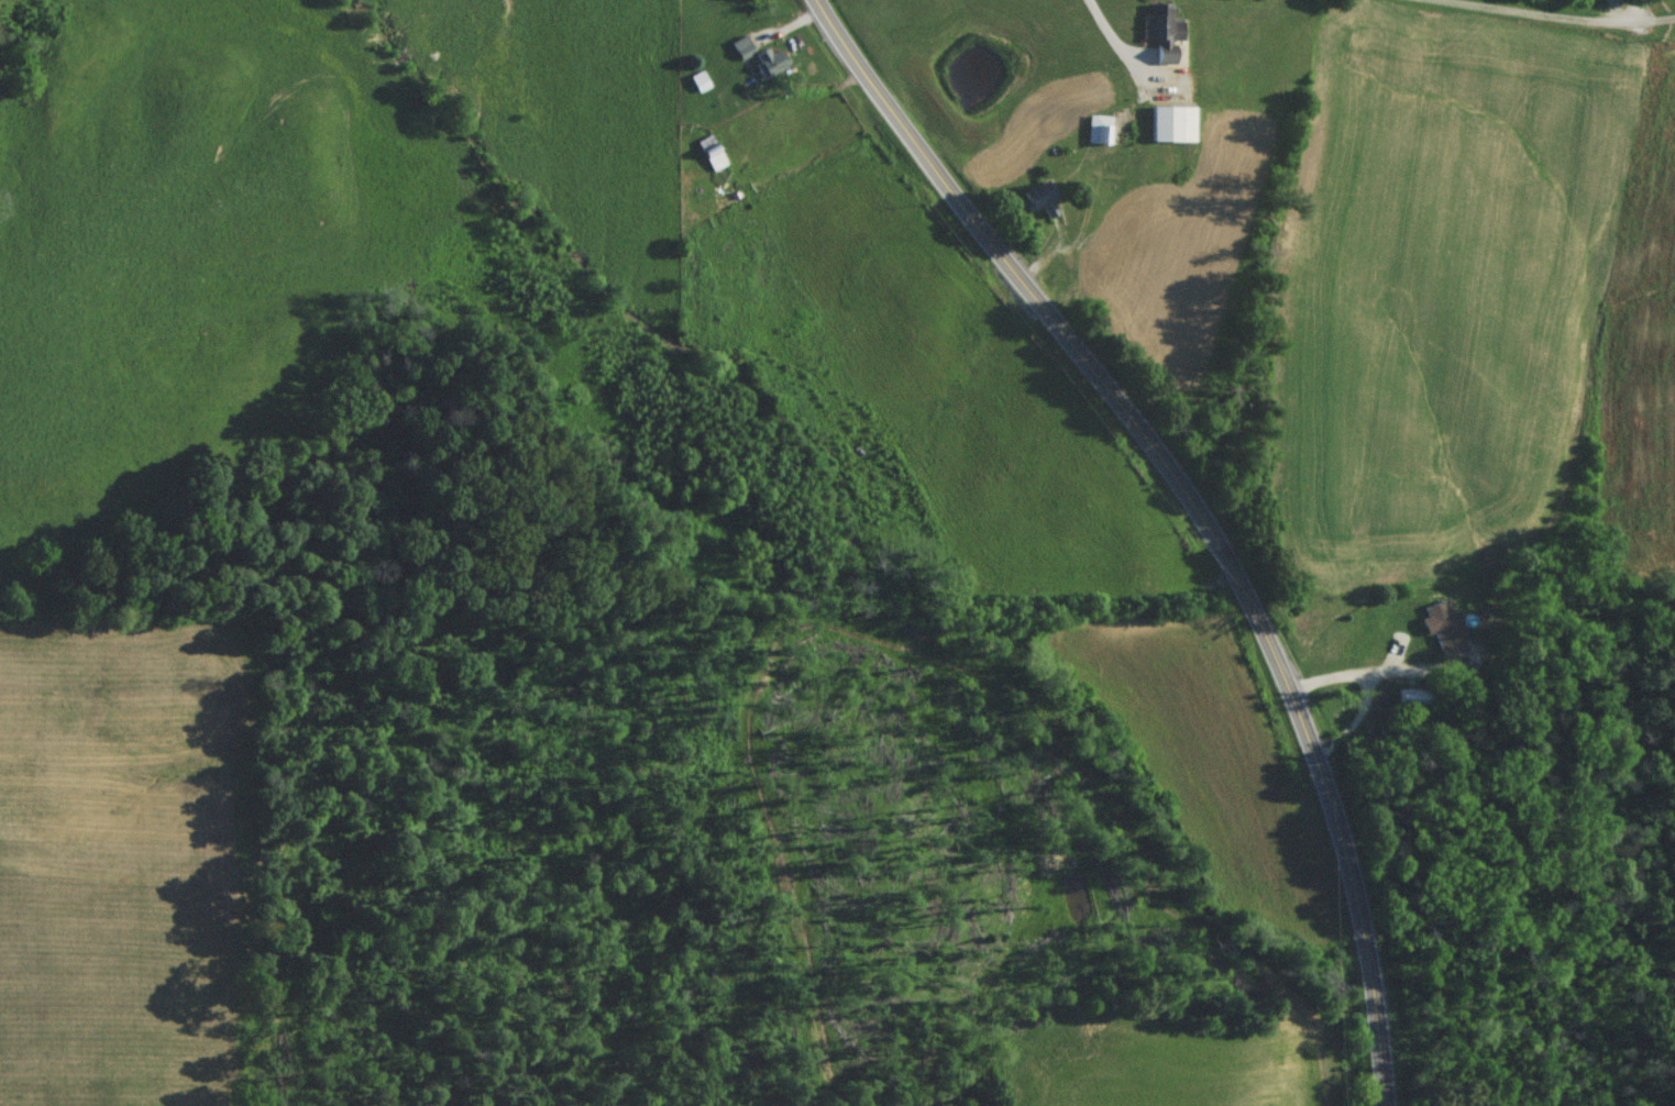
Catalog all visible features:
road: (1552, 12)
road: (1653, 18)
building: (1158, 38)
road: (1126, 49)
building: (696, 87)
building: (1168, 129)
building: (1094, 134)
building: (706, 158)
building: (1036, 207)
road: (1197, 508)
building: (1440, 633)
road: (1378, 688)
building: (1410, 705)

